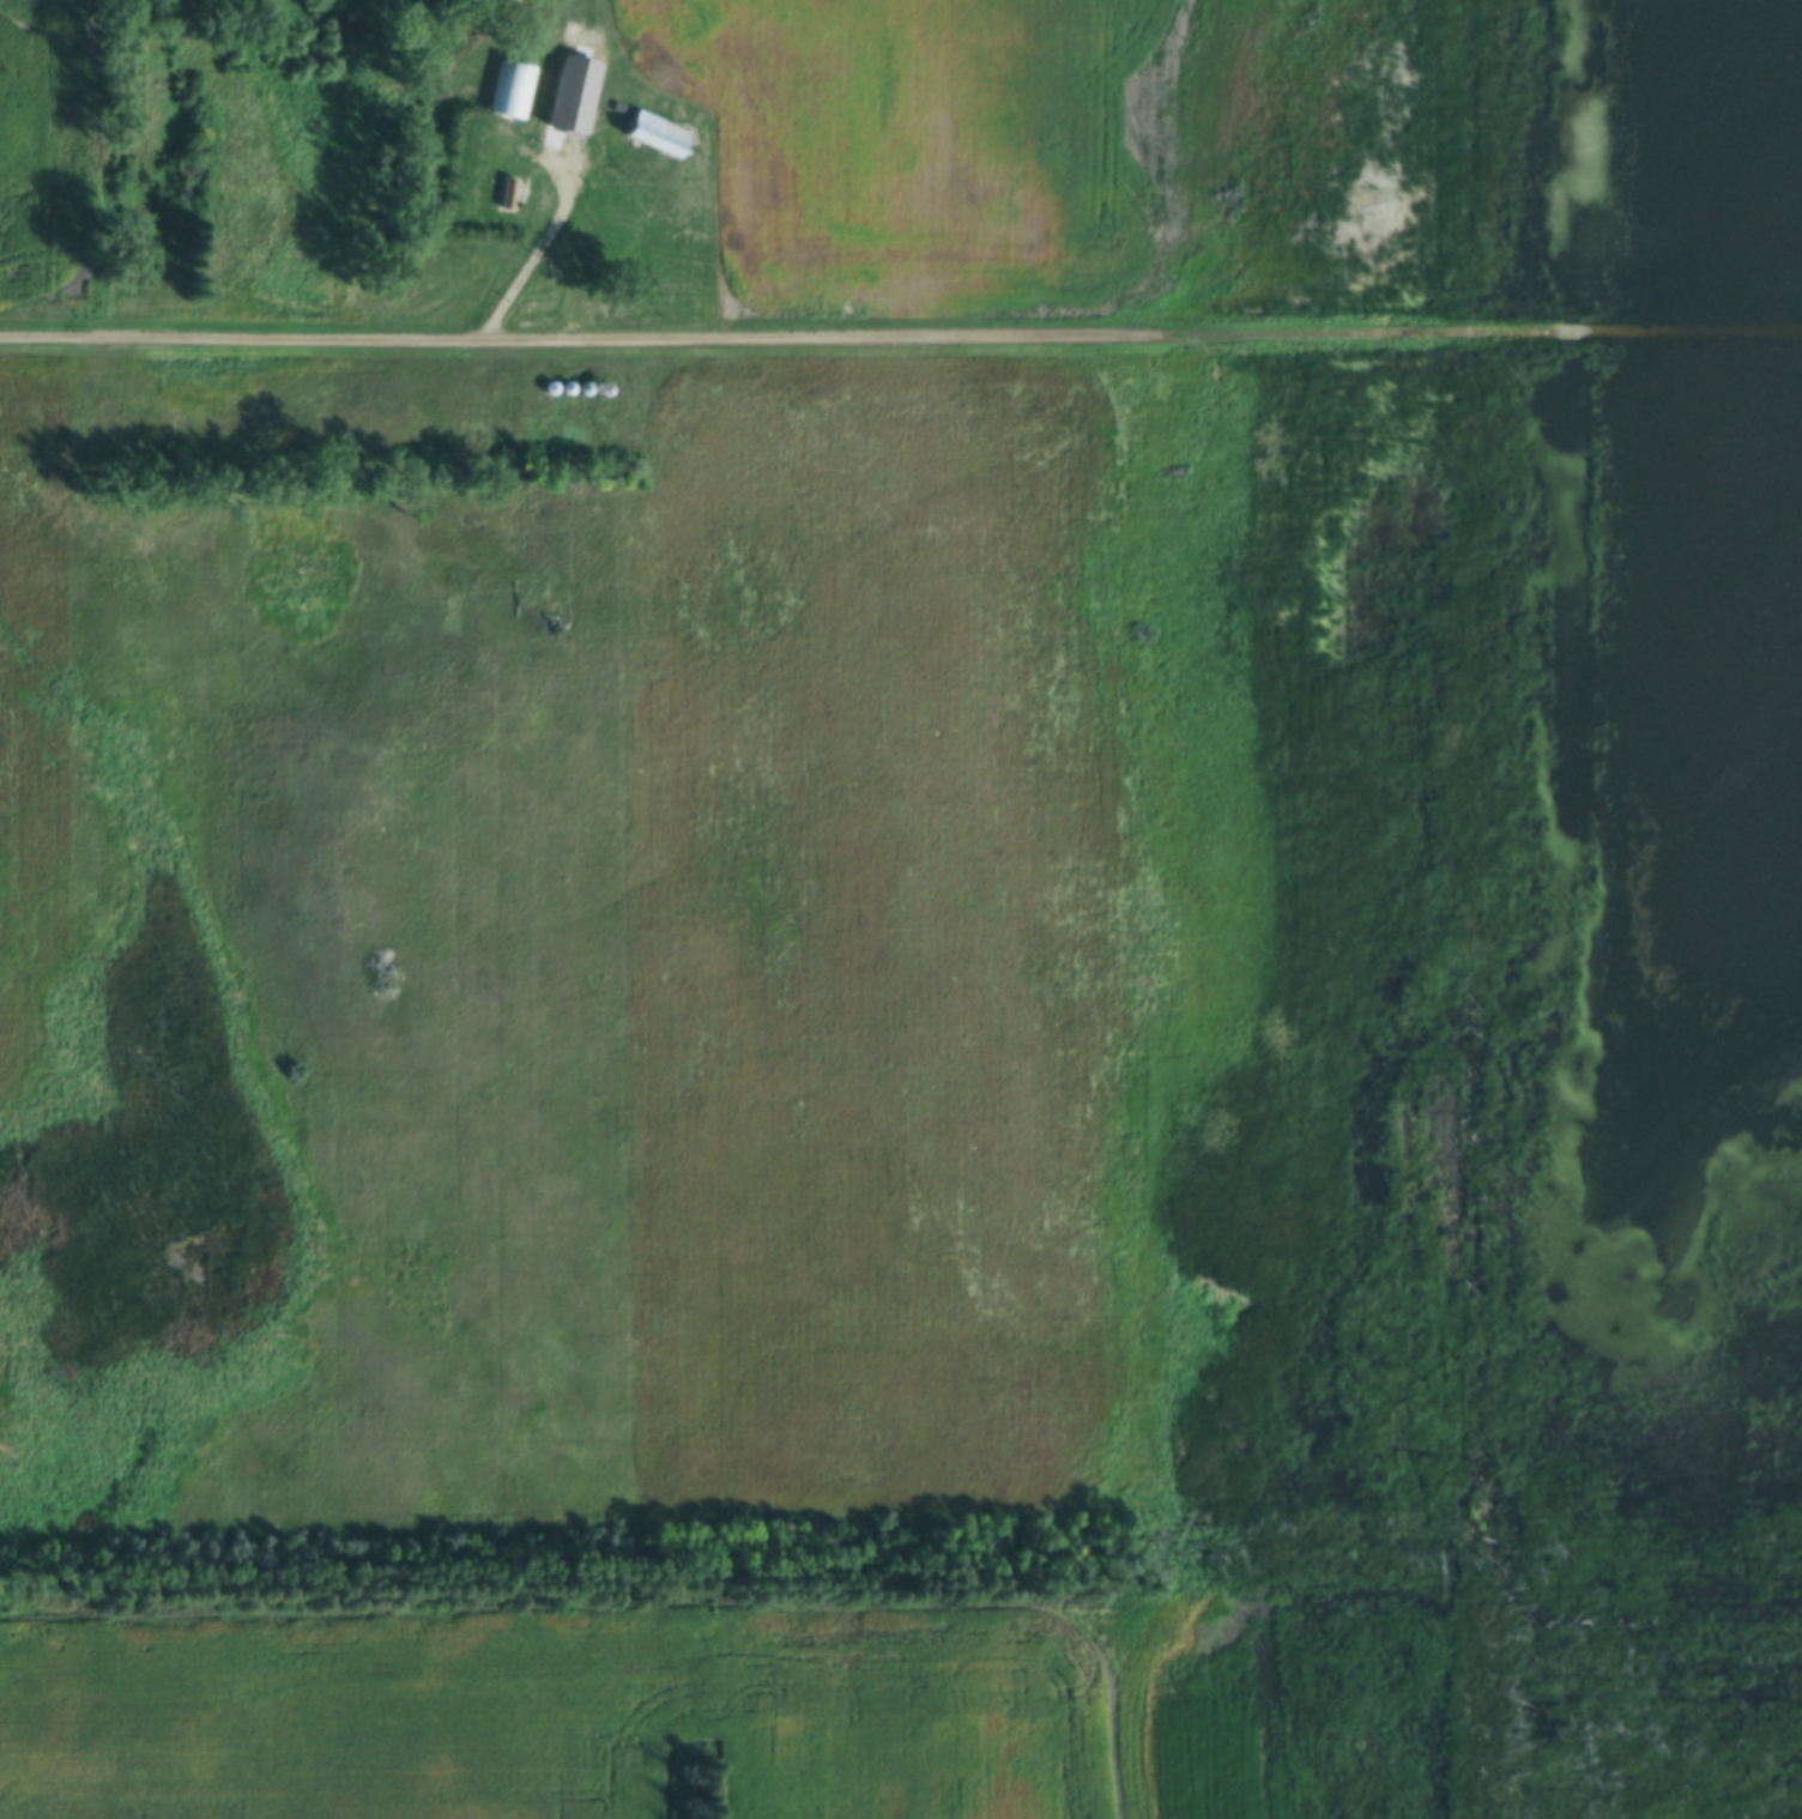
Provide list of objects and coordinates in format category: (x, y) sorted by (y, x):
building: (512, 86)
building: (564, 121)
building: (660, 131)
road: (1026, 338)
road: (237, 342)

